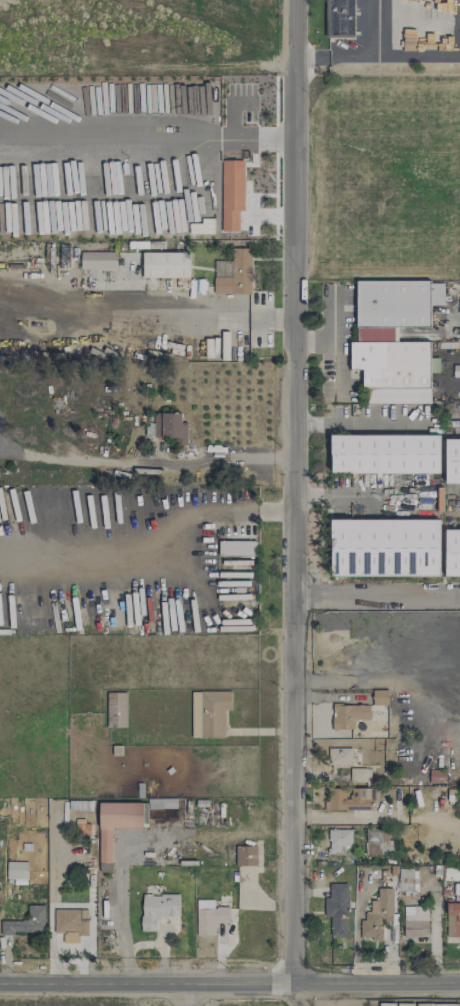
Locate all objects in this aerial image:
road: (359, 57)
road: (413, 58)
road: (251, 140)
road: (201, 145)
building: (231, 194)
building: (98, 260)
building: (165, 264)
building: (236, 274)
road: (145, 316)
road: (332, 332)
building: (393, 339)
road: (332, 366)
road: (386, 423)
road: (317, 424)
building: (170, 427)
building: (385, 454)
building: (452, 461)
road: (146, 462)
road: (296, 492)
road: (456, 502)
building: (385, 547)
building: (237, 548)
building: (452, 552)
road: (168, 554)
road: (378, 597)
building: (380, 697)
building: (121, 709)
building: (208, 713)
building: (347, 715)
building: (340, 756)
building: (437, 776)
building: (352, 793)
building: (162, 803)
building: (435, 805)
road: (378, 818)
building: (115, 827)
building: (338, 839)
building: (378, 842)
building: (245, 855)
building: (17, 872)
building: (409, 879)
building: (157, 909)
building: (337, 909)
building: (378, 914)
building: (209, 916)
building: (452, 919)
building: (415, 921)
building: (25, 922)
building: (70, 922)
road: (148, 982)
road: (378, 983)
road: (296, 995)

